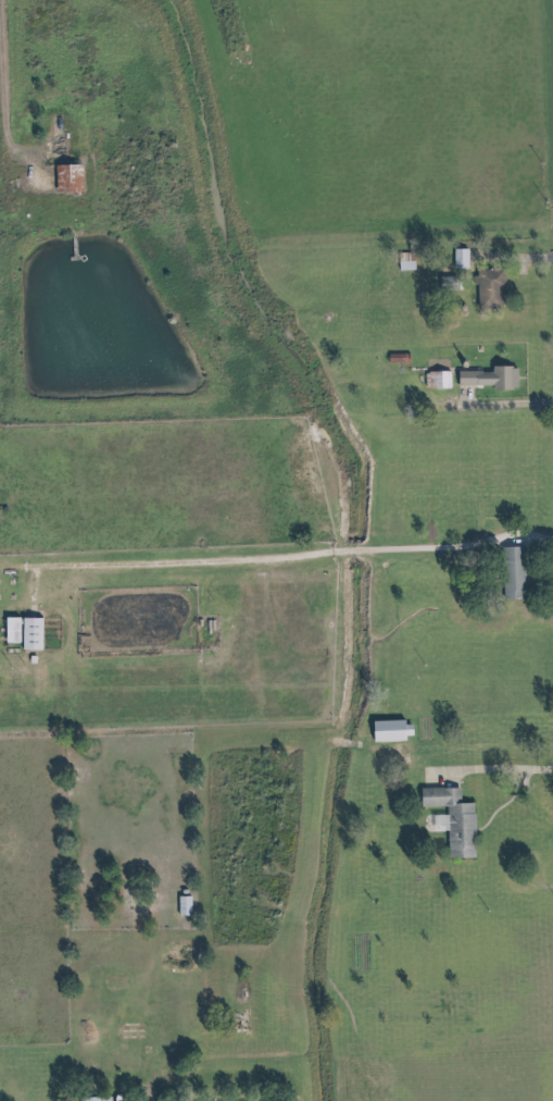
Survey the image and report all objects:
road: (1, 114)
building: (59, 132)
building: (68, 180)
road: (513, 258)
building: (456, 259)
building: (407, 262)
building: (442, 283)
building: (485, 289)
building: (392, 358)
building: (482, 376)
building: (440, 381)
road: (495, 404)
road: (267, 555)
building: (506, 572)
building: (27, 633)
building: (385, 730)
road: (487, 771)
building: (431, 797)
building: (455, 831)
building: (179, 905)
building: (185, 907)
road: (177, 1096)
building: (93, 1098)
road: (208, 1098)

